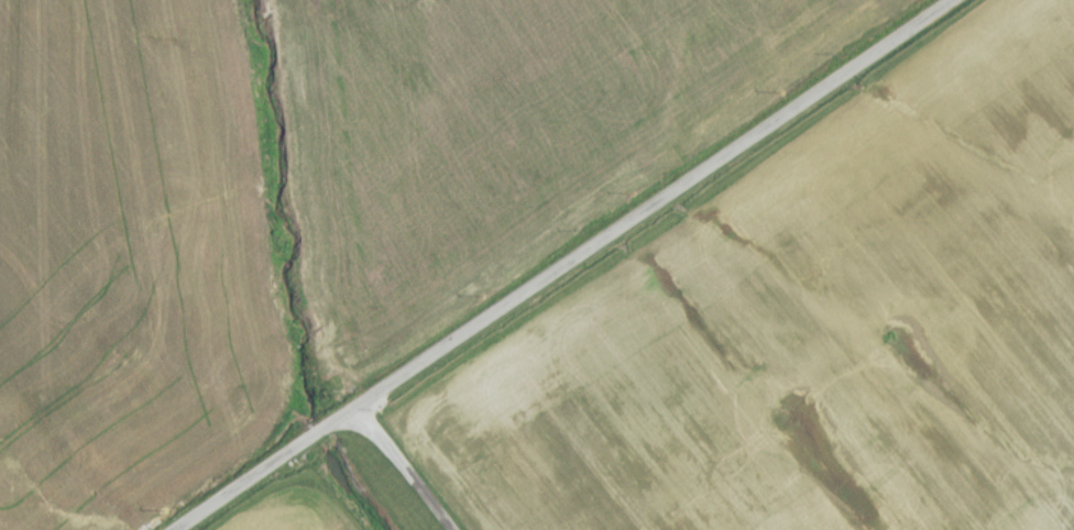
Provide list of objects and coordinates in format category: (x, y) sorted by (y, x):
road: (567, 267)
road: (399, 472)

